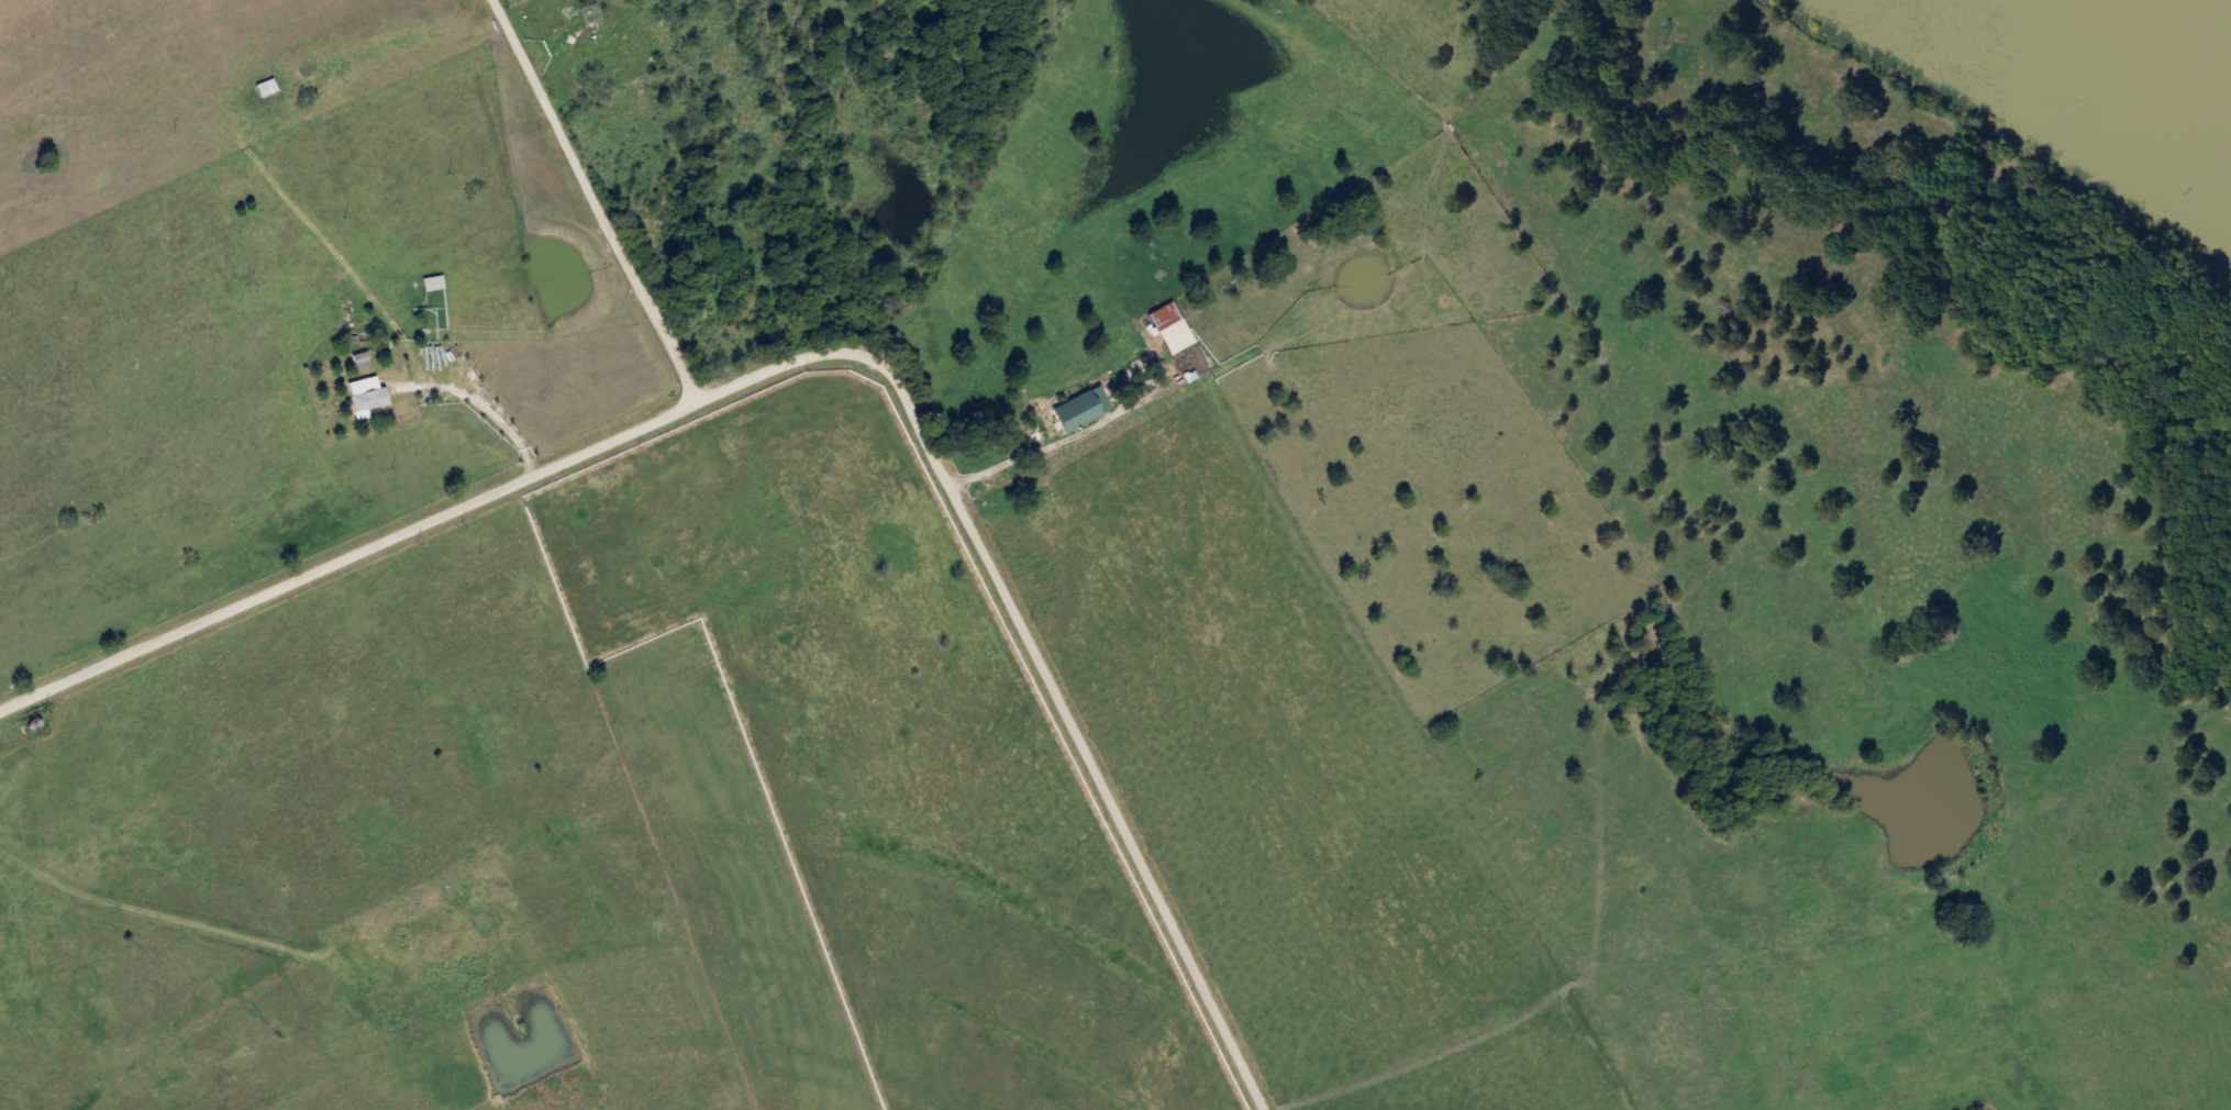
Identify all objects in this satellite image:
building: (259, 89)
road: (609, 231)
building: (430, 282)
building: (1173, 335)
building: (364, 393)
road: (346, 556)
road: (1028, 644)
road: (2009, 836)

